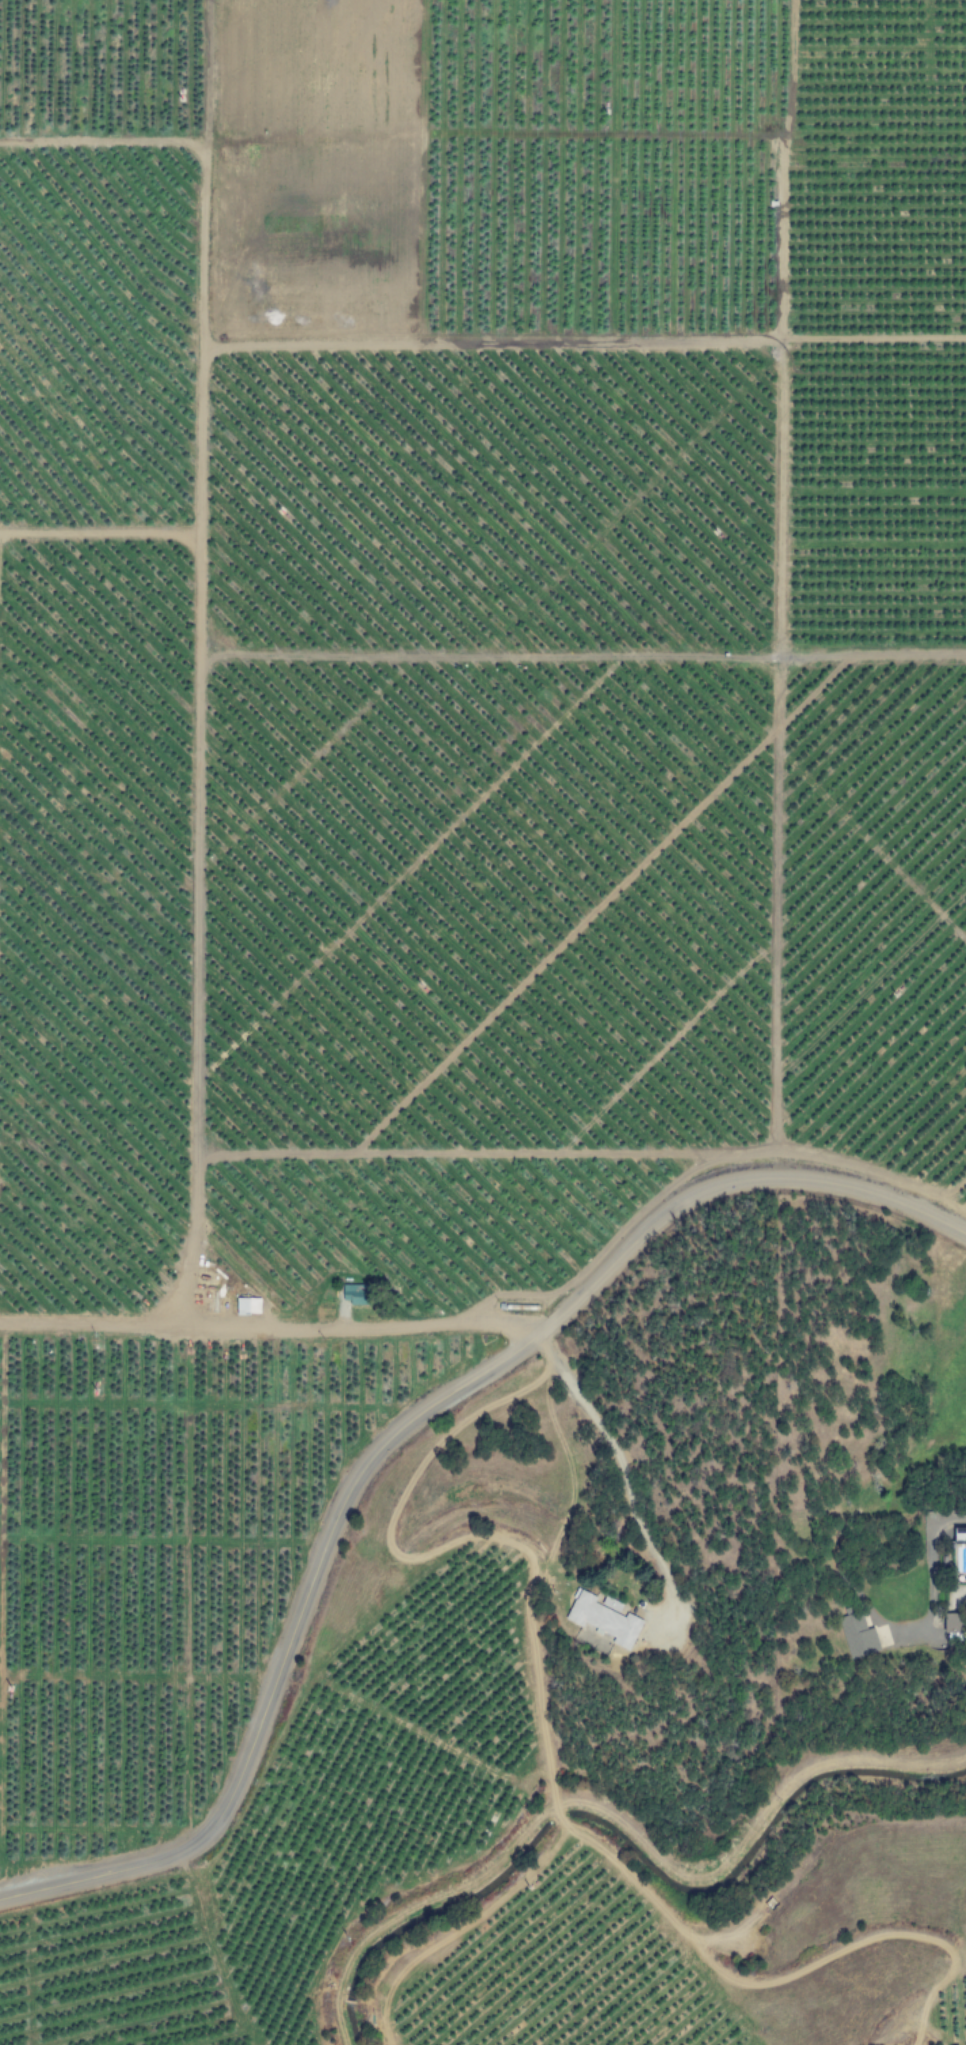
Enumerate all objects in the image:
building: (353, 1294)
building: (247, 1306)
road: (396, 1436)
building: (959, 1535)
building: (611, 1605)
building: (602, 1620)
building: (950, 1623)
building: (861, 1636)
road: (812, 1769)
road: (491, 1861)

